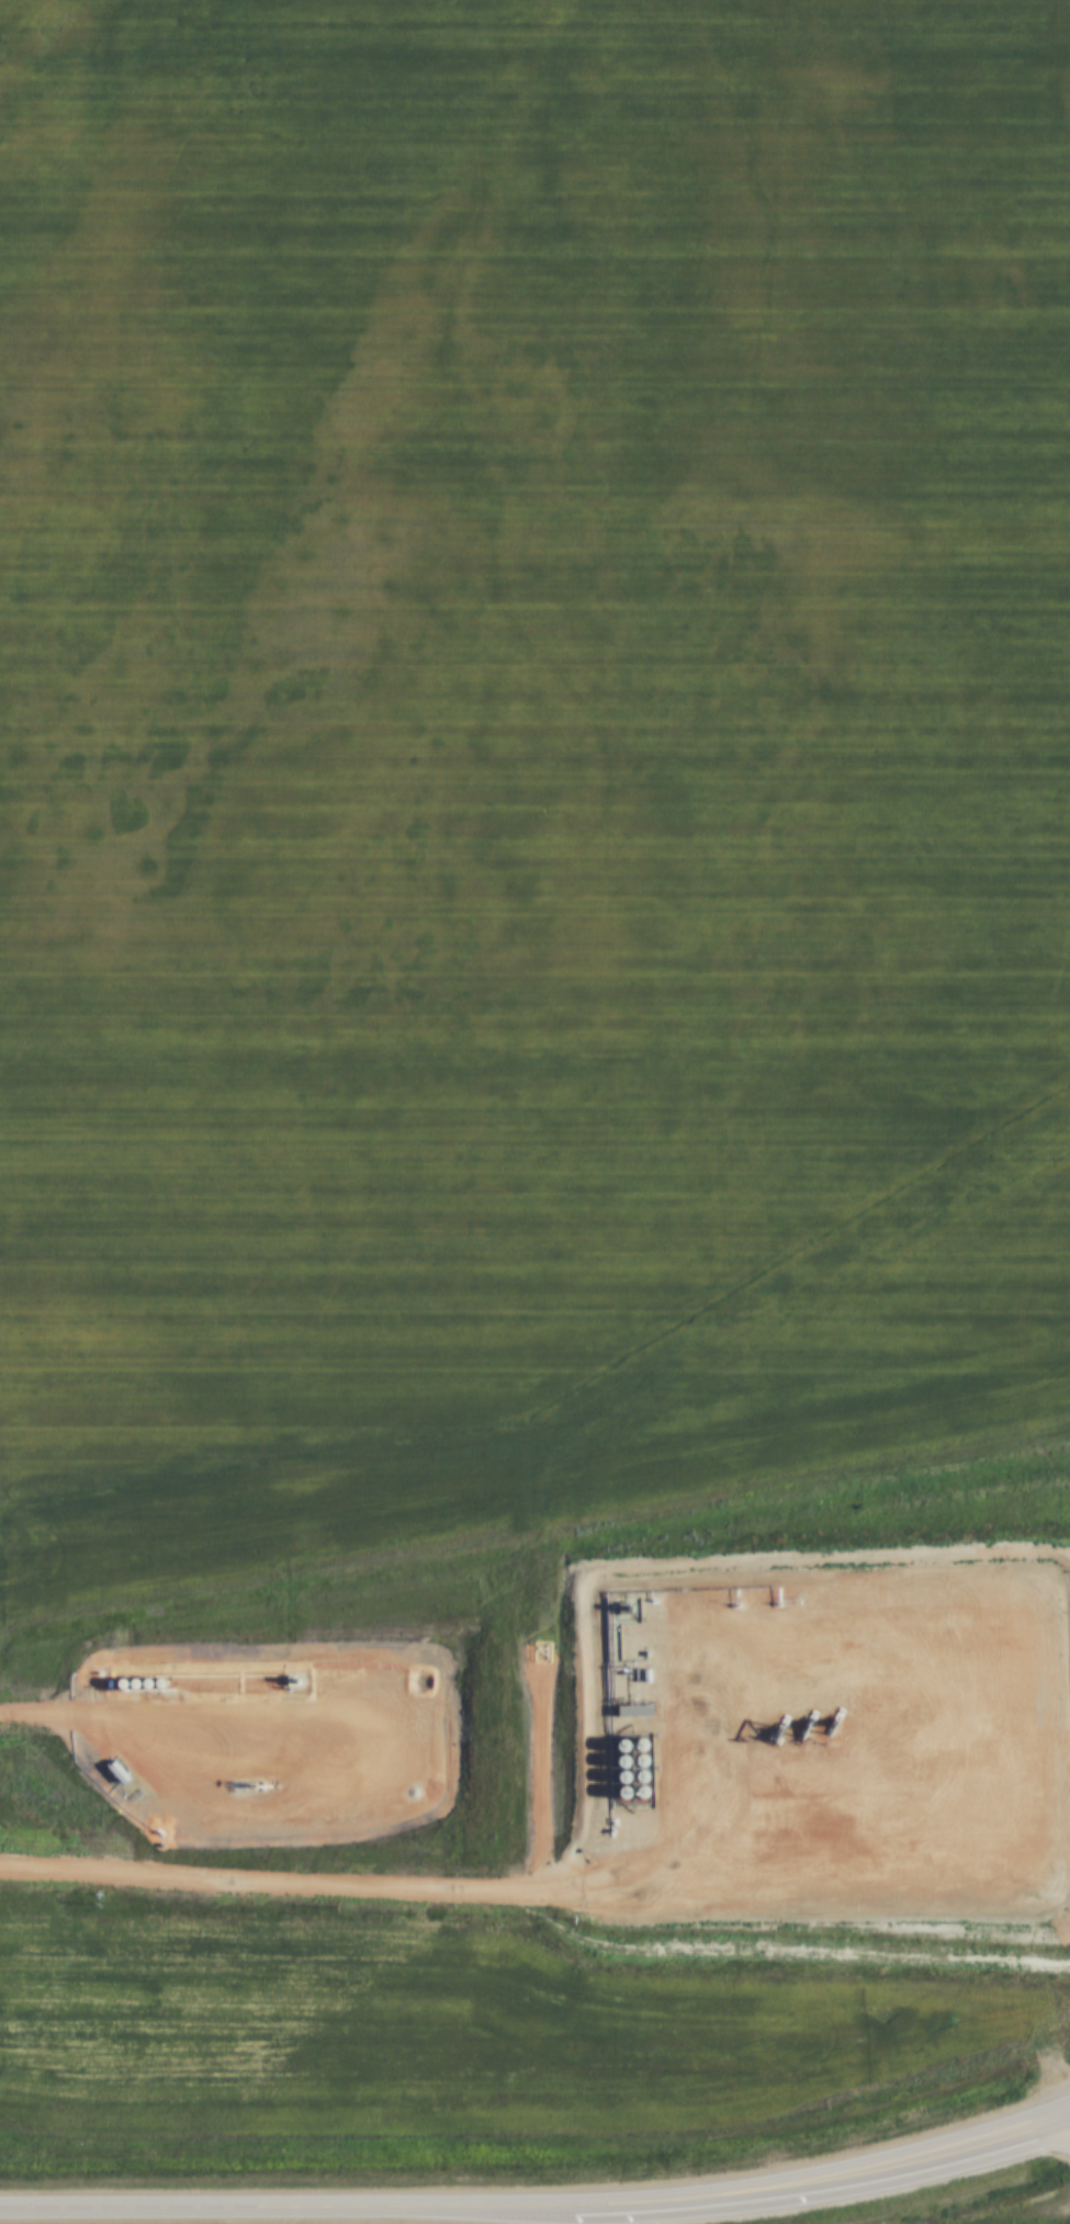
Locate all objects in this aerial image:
road: (540, 2212)

